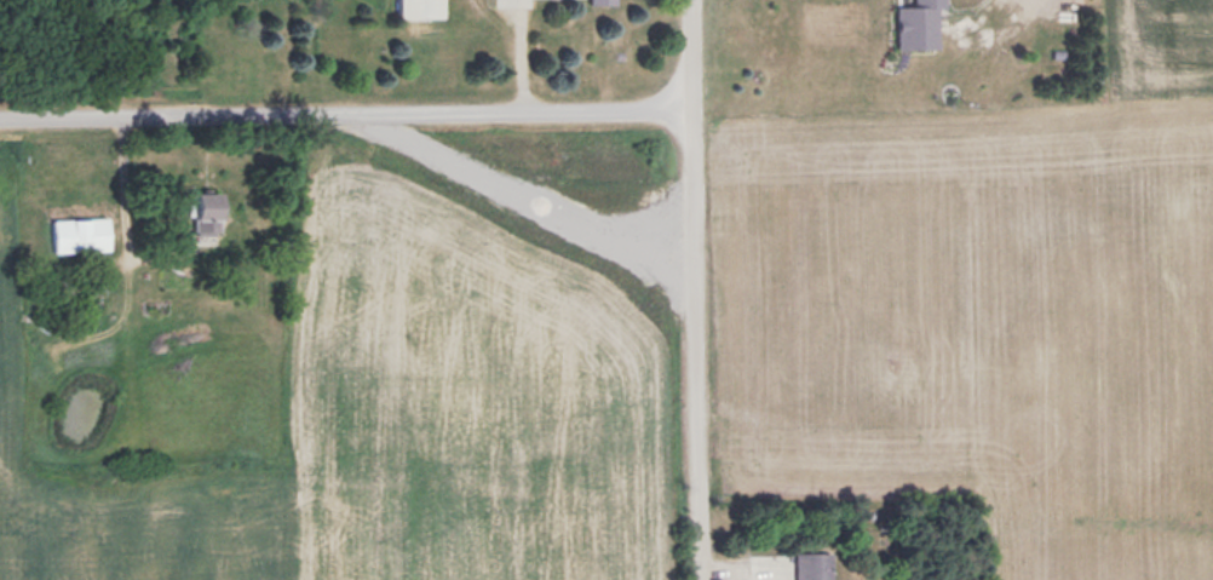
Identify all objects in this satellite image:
building: (605, 1)
building: (512, 2)
building: (422, 7)
building: (924, 23)
road: (519, 57)
road: (347, 115)
building: (208, 213)
building: (80, 234)
road: (699, 289)
building: (805, 565)

